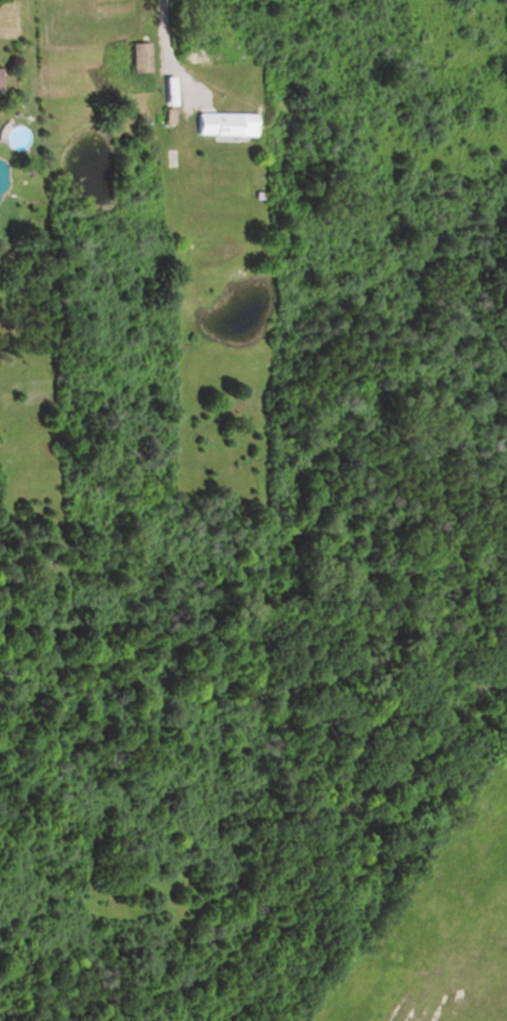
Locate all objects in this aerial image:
road: (168, 48)
building: (0, 88)
building: (226, 124)

